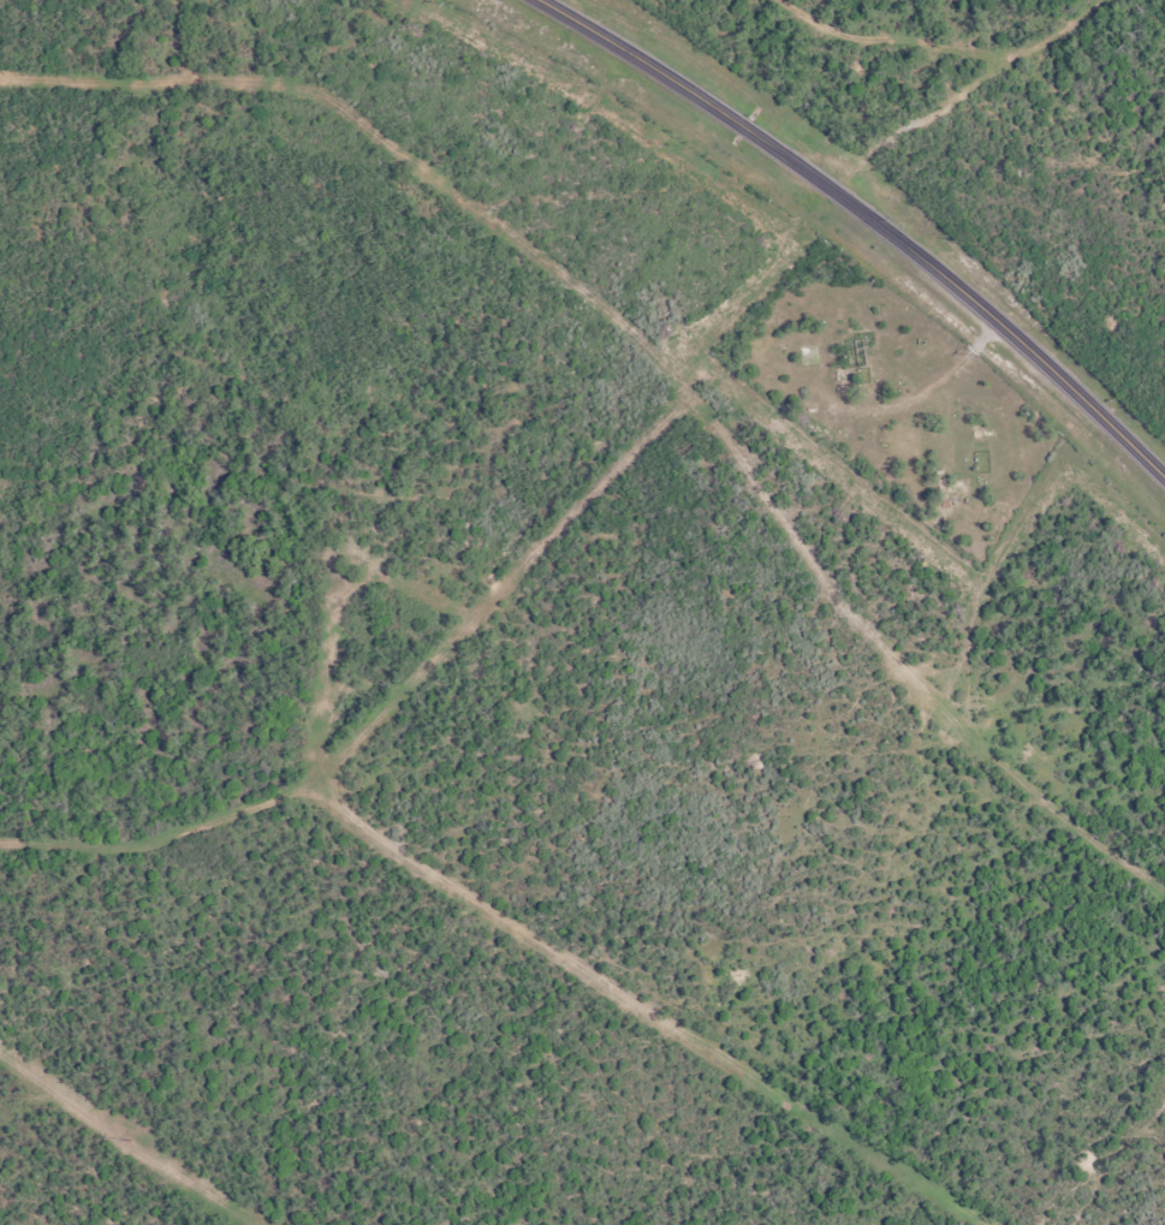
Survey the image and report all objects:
road: (867, 218)
power tower: (130, 1138)

